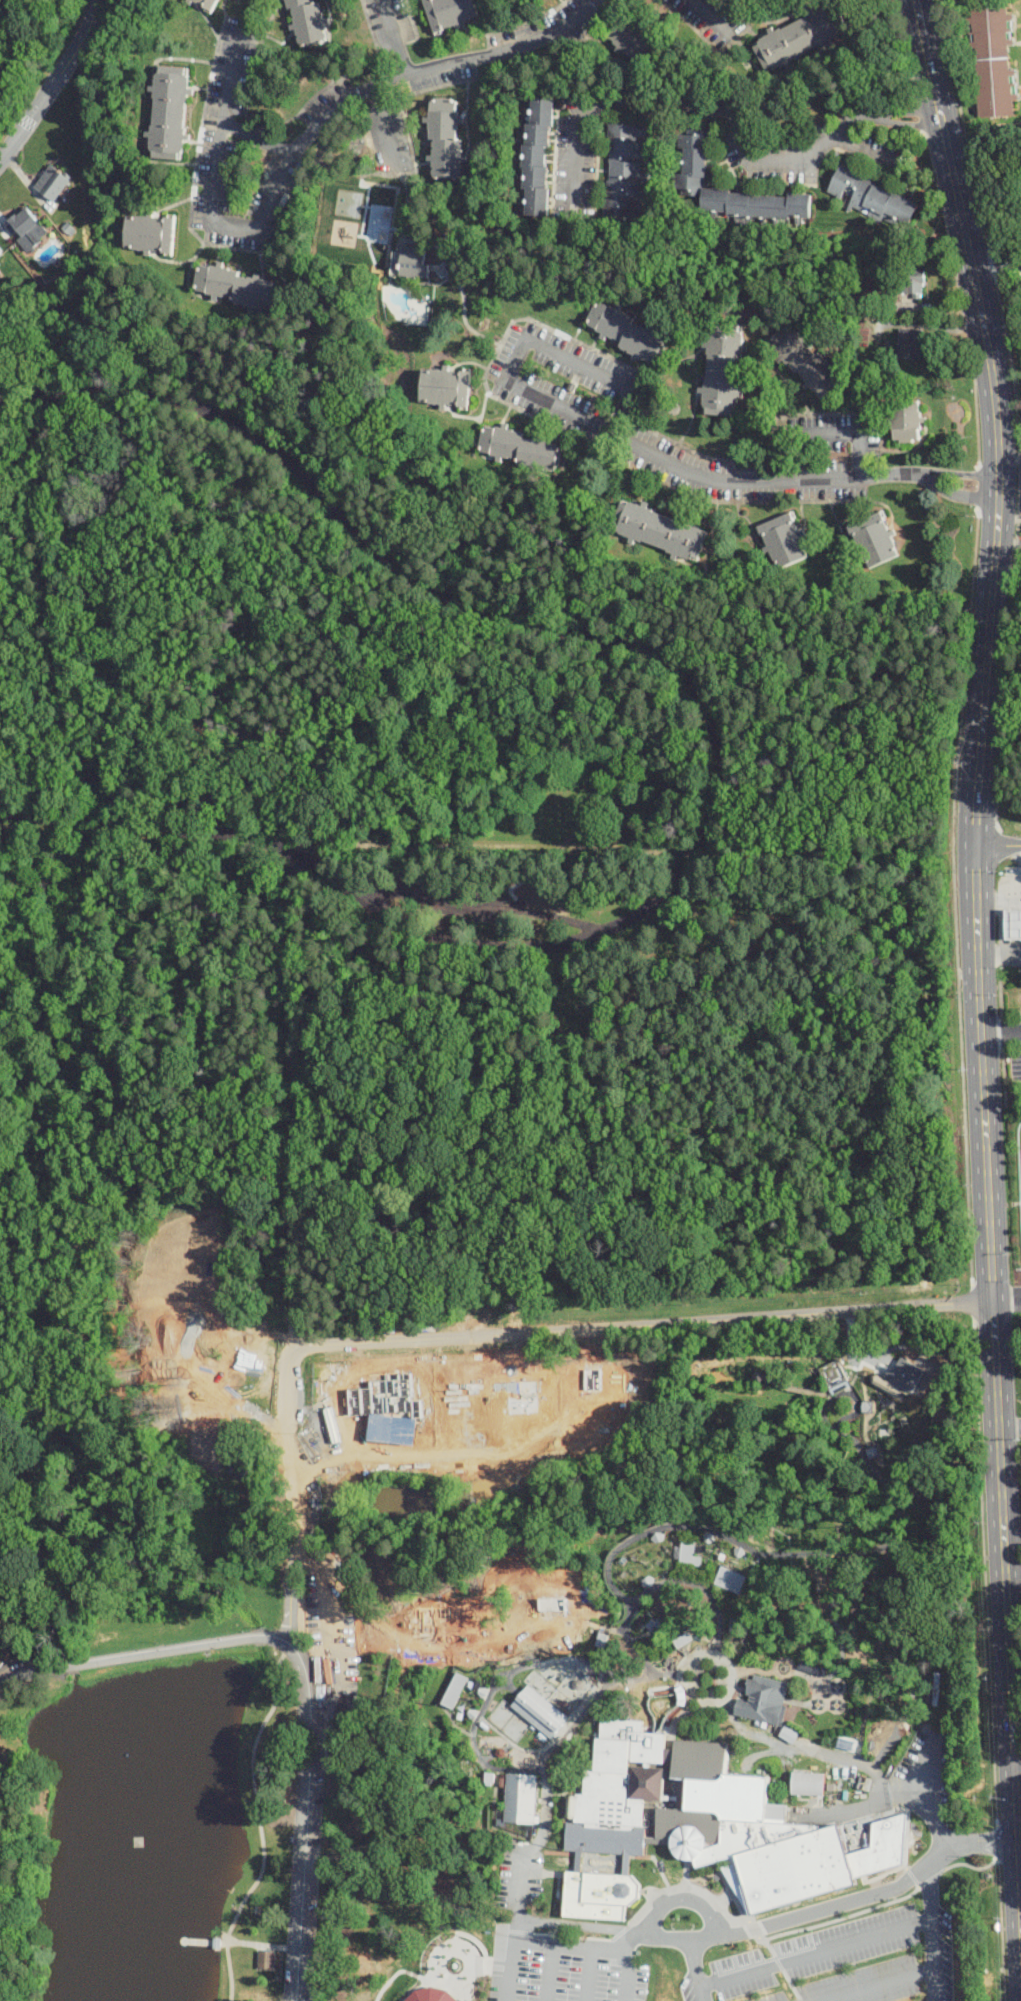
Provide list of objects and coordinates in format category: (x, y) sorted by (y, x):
building: (207, 4)
building: (451, 12)
road: (710, 15)
building: (308, 22)
building: (796, 38)
road: (393, 39)
building: (631, 39)
road: (924, 44)
building: (990, 60)
road: (52, 80)
road: (726, 112)
building: (170, 113)
road: (385, 128)
road: (260, 139)
building: (446, 140)
road: (302, 147)
road: (860, 147)
building: (540, 155)
building: (691, 160)
building: (623, 173)
building: (48, 182)
building: (871, 197)
building: (25, 226)
building: (147, 233)
road: (996, 262)
building: (412, 263)
building: (910, 282)
building: (235, 285)
building: (630, 334)
building: (909, 344)
building: (807, 362)
building: (724, 370)
building: (446, 389)
road: (994, 399)
building: (907, 422)
road: (850, 431)
building: (522, 449)
road: (648, 451)
building: (660, 531)
building: (784, 542)
building: (875, 542)
road: (650, 653)
road: (201, 701)
road: (977, 781)
road: (129, 824)
road: (301, 845)
road: (617, 846)
road: (998, 846)
park: (470, 847)
road: (1011, 891)
road: (470, 901)
building: (1014, 925)
road: (1002, 928)
road: (1001, 1031)
road: (293, 1098)
road: (1019, 1299)
road: (1006, 1300)
road: (644, 1325)
road: (995, 1345)
building: (833, 1374)
building: (761, 1376)
road: (851, 1381)
building: (840, 1387)
road: (841, 1387)
road: (796, 1389)
building: (866, 1404)
road: (1010, 1427)
building: (872, 1450)
road: (291, 1493)
building: (657, 1535)
building: (708, 1536)
building: (702, 1545)
building: (739, 1549)
building: (689, 1552)
road: (799, 1554)
road: (1013, 1568)
building: (730, 1577)
building: (647, 1579)
road: (696, 1582)
park: (468, 1598)
building: (642, 1616)
dam: (229, 1630)
dam: (157, 1643)
road: (142, 1655)
dam: (60, 1660)
road: (529, 1667)
building: (812, 1667)
road: (753, 1668)
building: (770, 1679)
road: (700, 1685)
fountain: (836, 1685)
road: (740, 1686)
road: (816, 1686)
building: (454, 1688)
building: (482, 1689)
fountain: (827, 1693)
building: (762, 1700)
road: (796, 1700)
fountain: (817, 1702)
fountain: (836, 1703)
building: (472, 1710)
building: (540, 1711)
road: (542, 1758)
road: (1018, 1769)
building: (809, 1784)
road: (922, 1793)
building: (520, 1799)
road: (305, 1818)
road: (258, 1822)
building: (701, 1826)
road: (1019, 1876)
road: (681, 1898)
road: (772, 1922)
road: (516, 1923)
road: (931, 1930)
road: (201, 1941)
road: (259, 1945)
road: (815, 1951)
building: (263, 1959)
road: (626, 1967)
road: (696, 1968)
road: (549, 1971)
road: (588, 1973)
road: (873, 1984)
building: (425, 1995)

